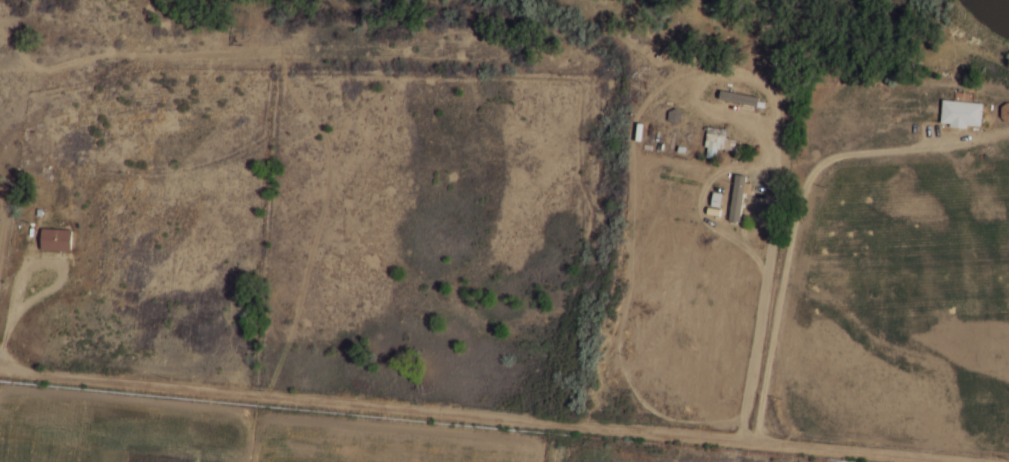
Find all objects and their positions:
building: (747, 117)
building: (718, 142)
building: (743, 186)
building: (56, 240)
road: (469, 417)

